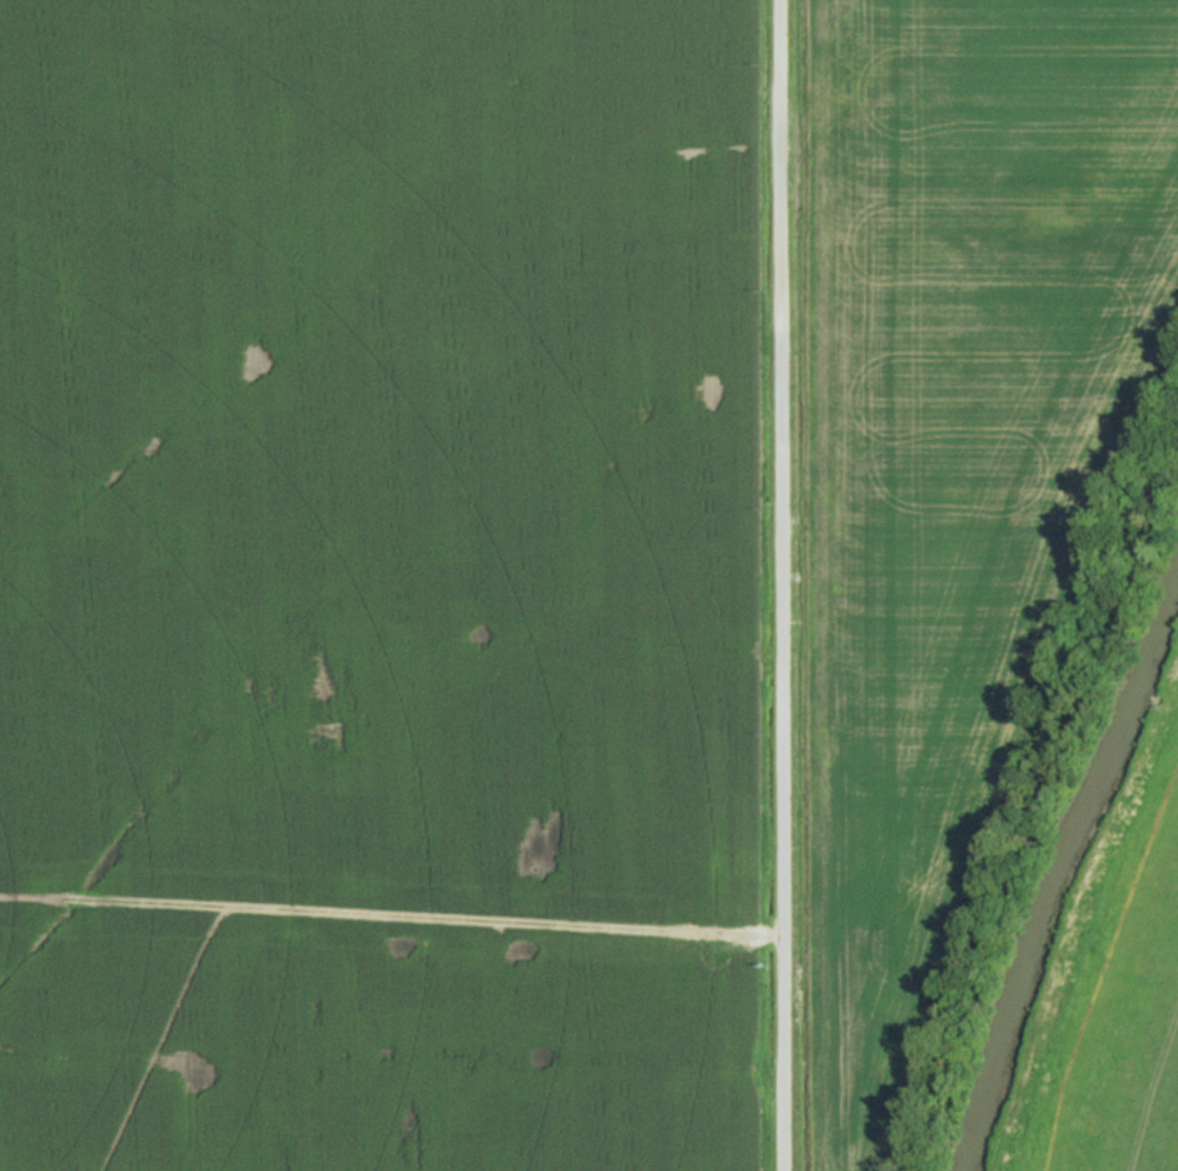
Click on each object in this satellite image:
road: (783, 585)

